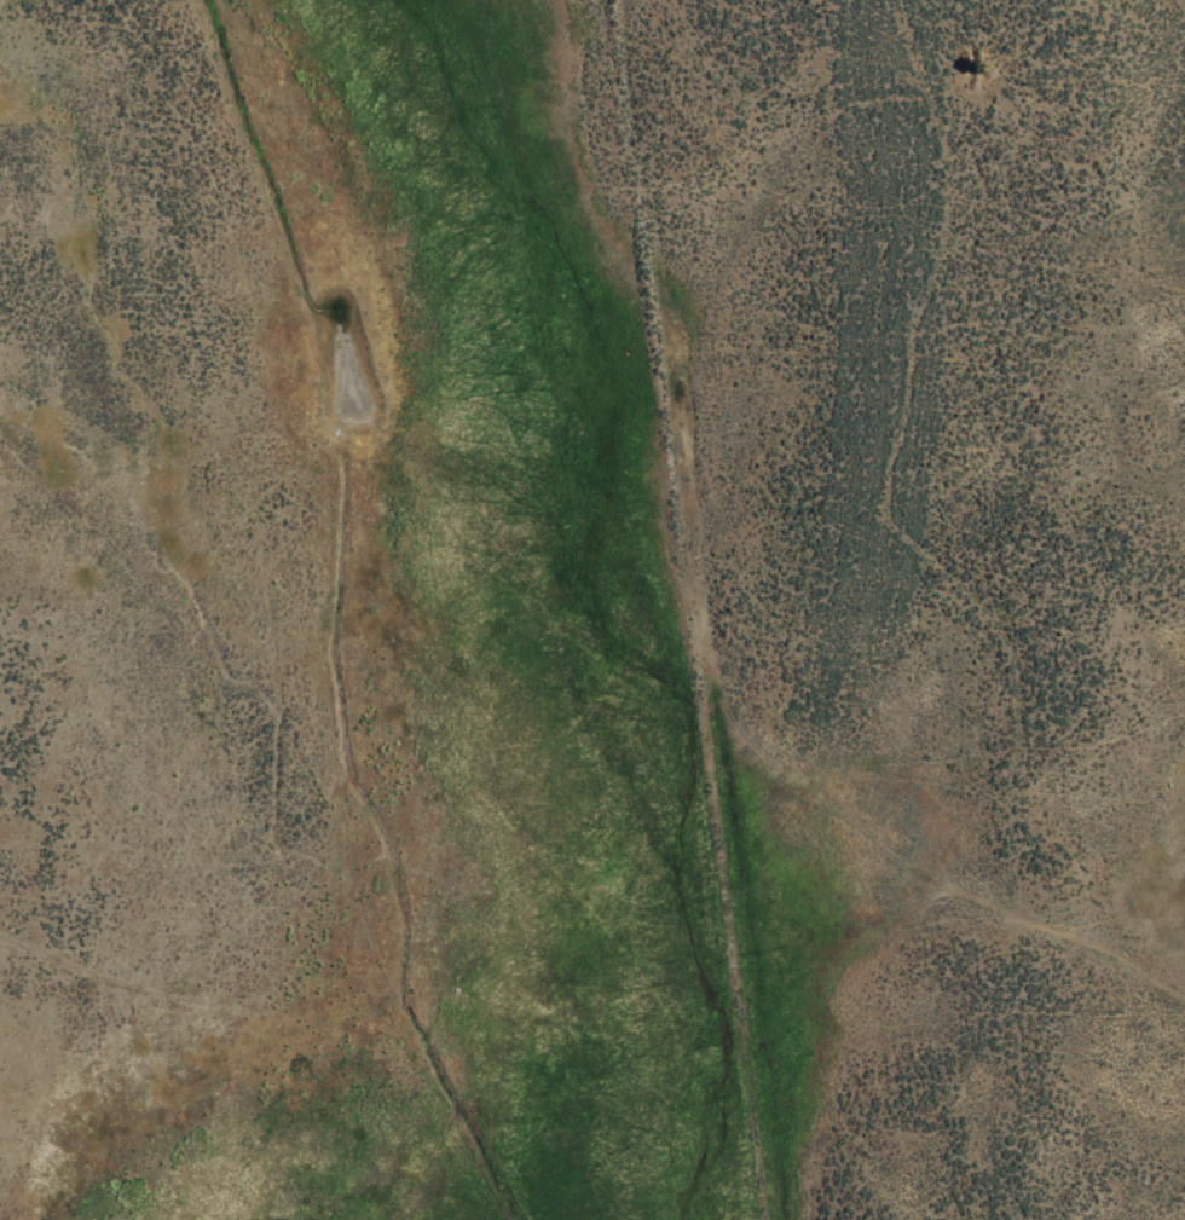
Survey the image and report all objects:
crop: (592, 609)

